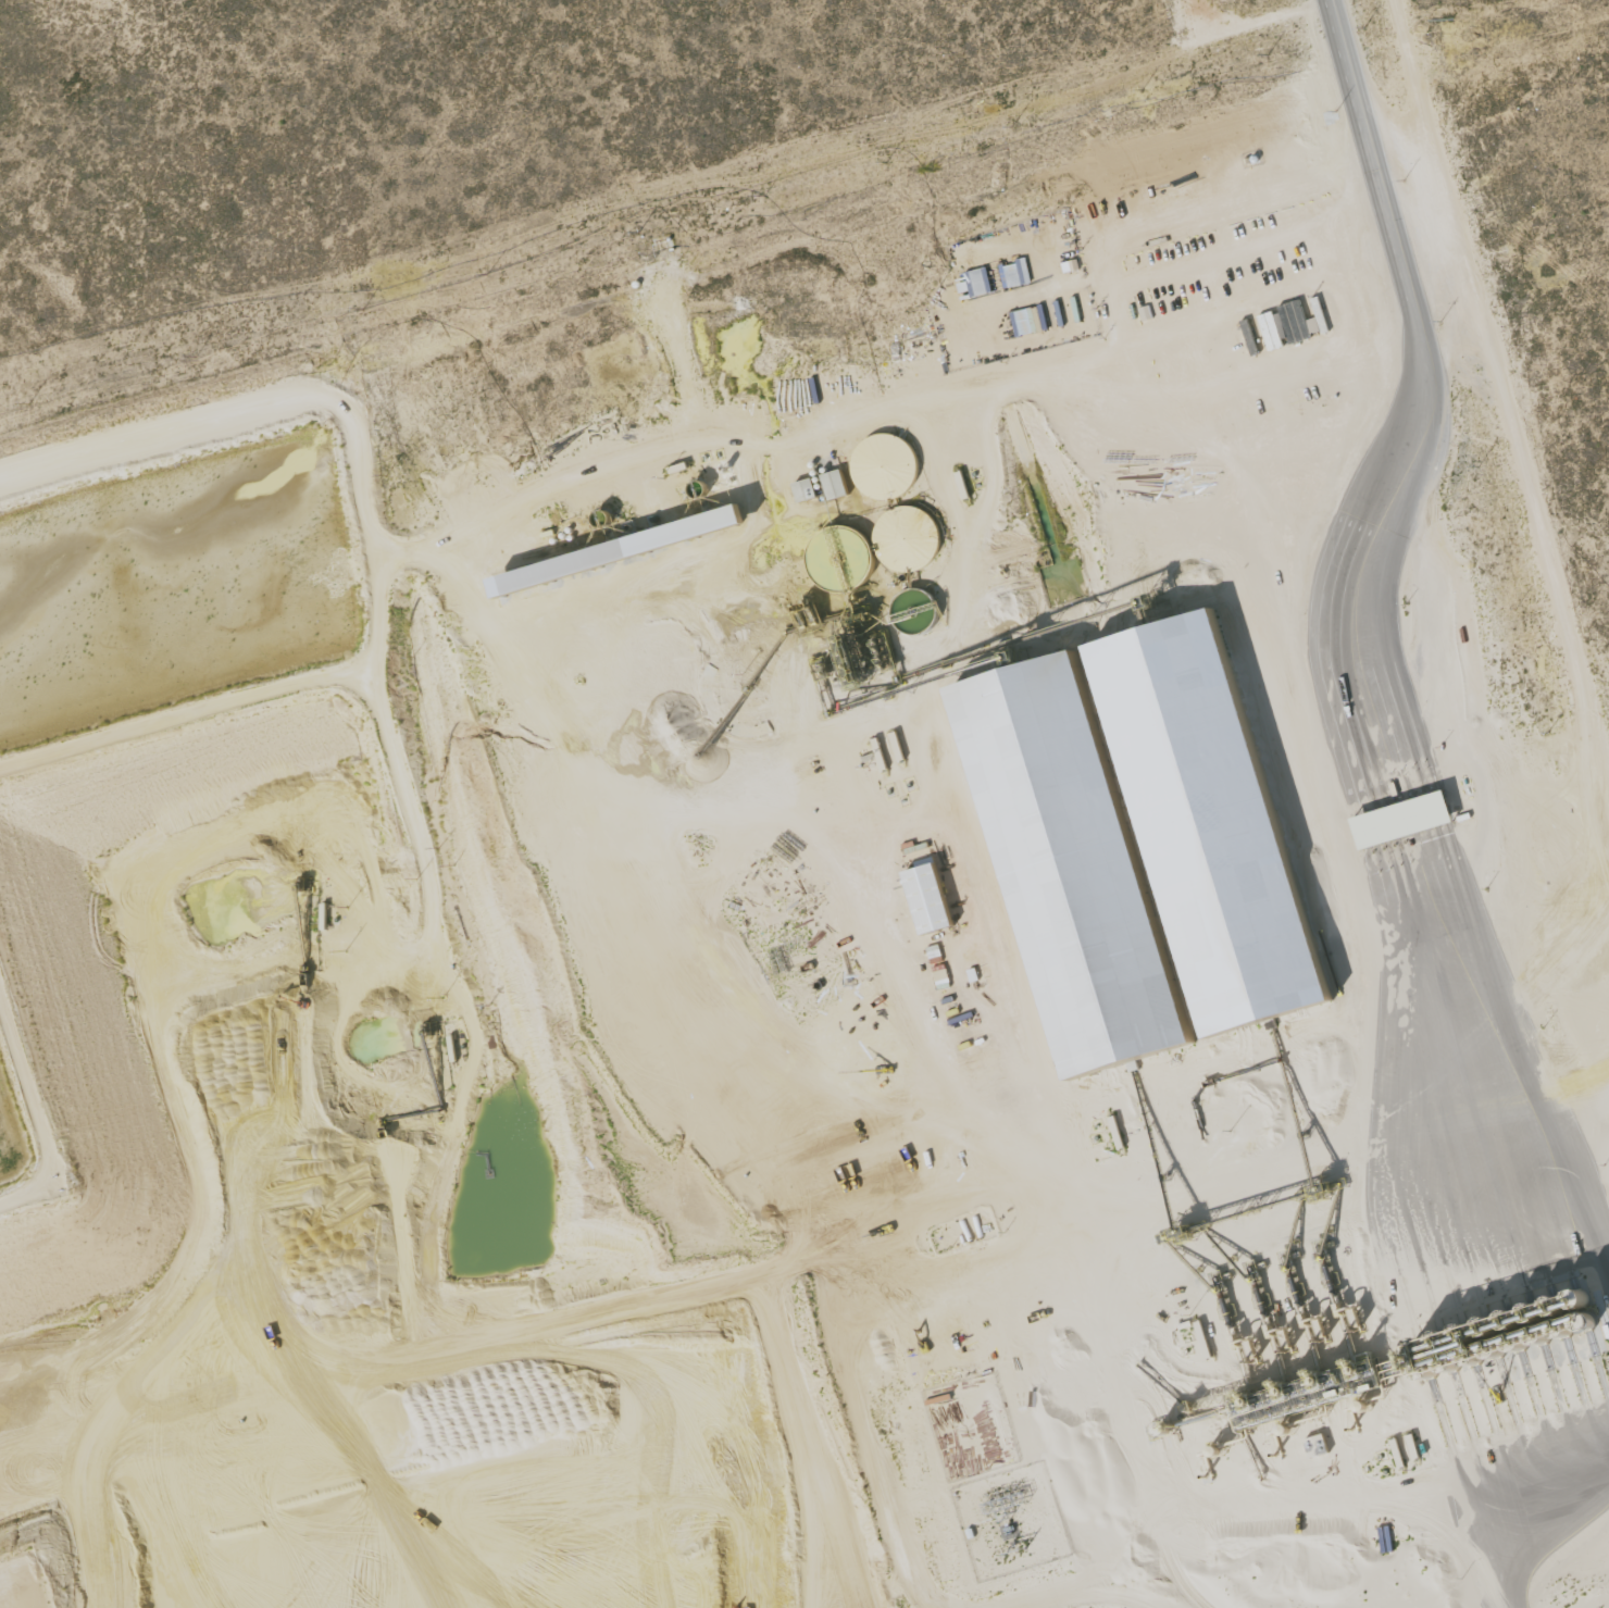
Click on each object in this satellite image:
building: (1024, 321)
road: (1511, 358)
building: (883, 464)
building: (833, 483)
building: (802, 488)
building: (905, 536)
building: (614, 552)
building: (1016, 720)
building: (1400, 819)
building: (925, 898)
road: (813, 1327)
building: (1314, 1445)
power substation: (1011, 1520)

